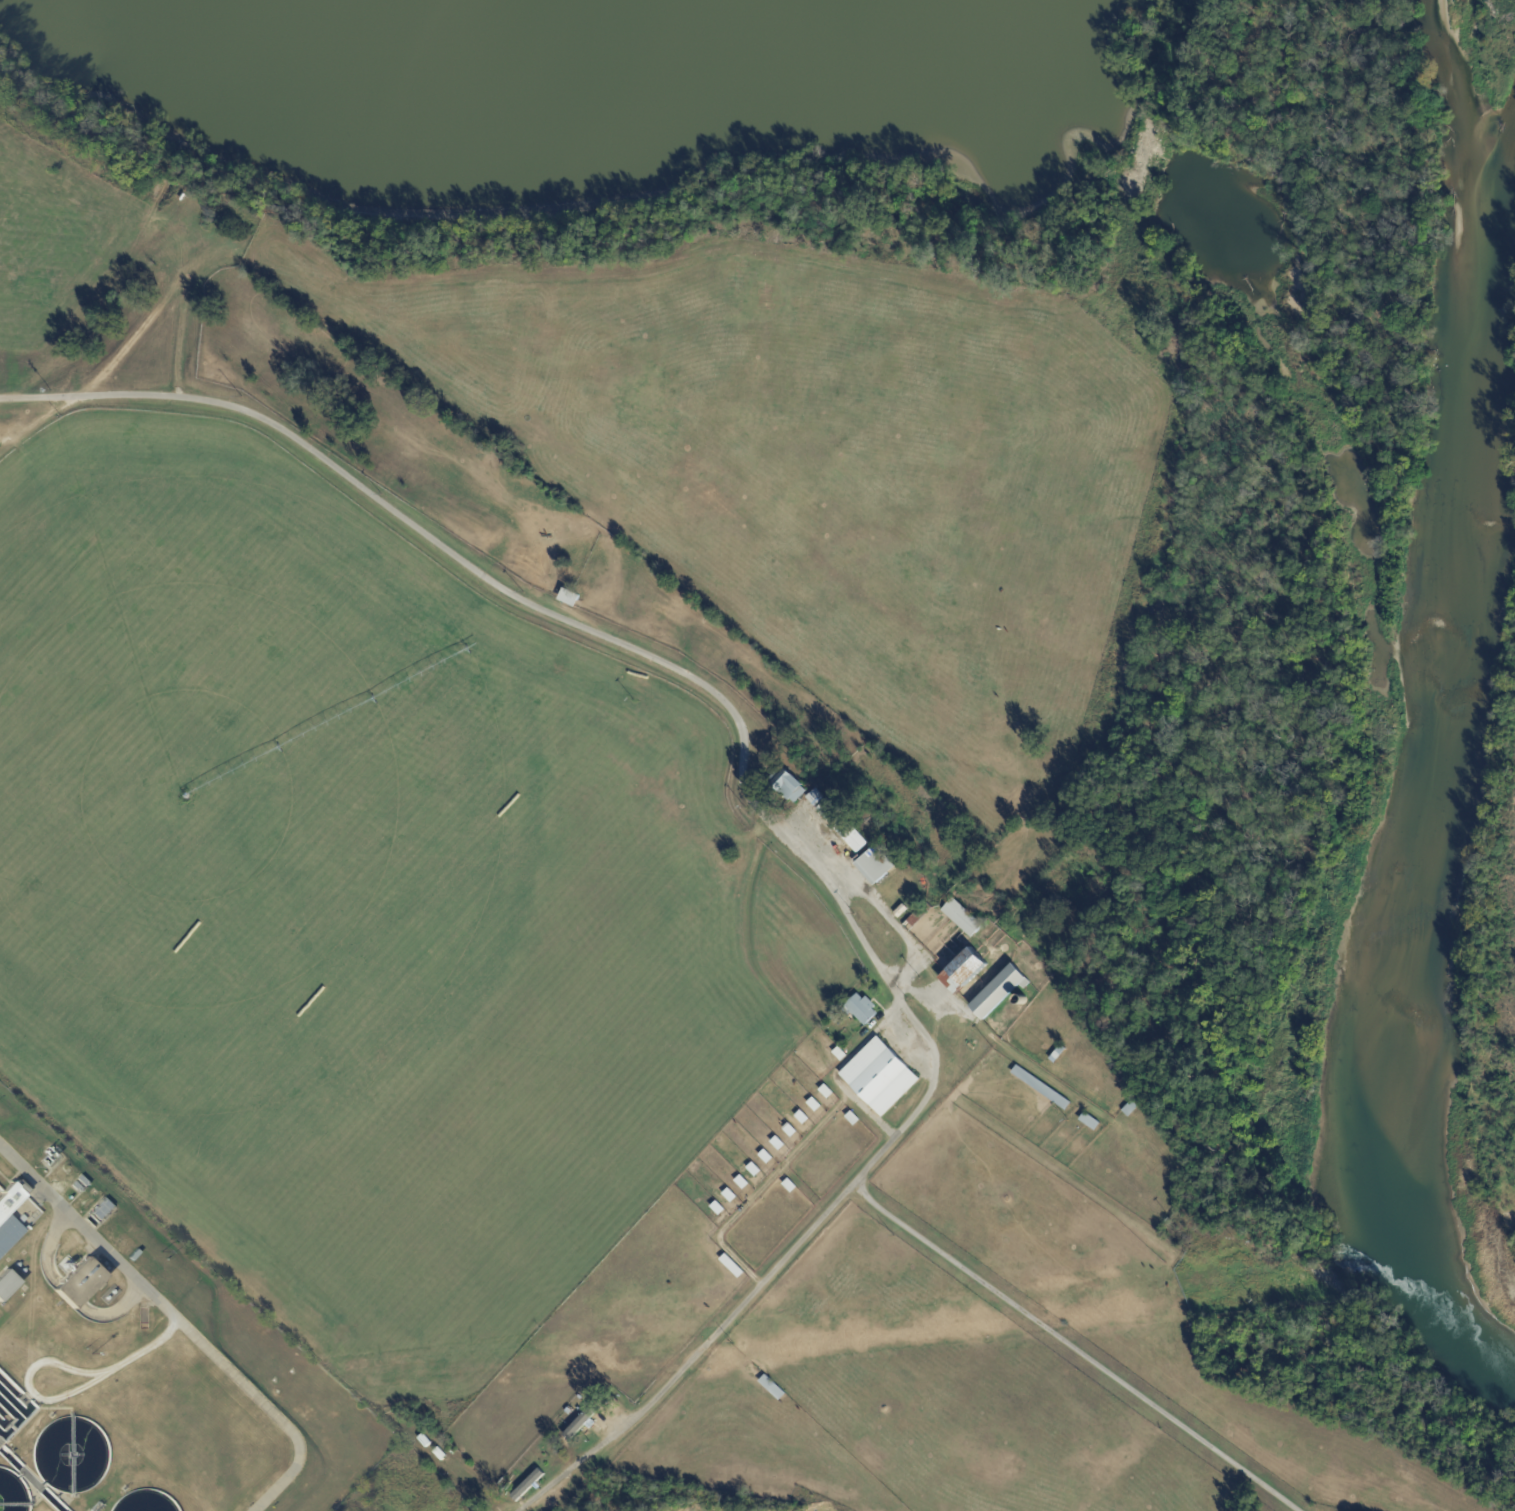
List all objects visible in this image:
crop: (55, 249)
crop: (829, 468)
building: (571, 598)
river: (1428, 760)
road: (745, 761)
building: (812, 769)
building: (789, 785)
building: (826, 807)
building: (853, 836)
building: (734, 854)
building: (878, 866)
crop: (359, 896)
building: (902, 912)
building: (964, 918)
building: (917, 921)
road: (895, 926)
building: (969, 967)
building: (1000, 993)
building: (862, 1010)
building: (841, 1055)
building: (1059, 1055)
building: (881, 1078)
building: (1043, 1088)
building: (828, 1093)
building: (816, 1106)
building: (1131, 1109)
building: (804, 1119)
building: (854, 1120)
building: (1092, 1123)
building: (791, 1132)
building: (779, 1145)
building: (767, 1158)
road: (780, 1166)
building: (755, 1171)
building: (743, 1184)
building: (791, 1187)
building: (731, 1197)
building: (18, 1206)
building: (719, 1210)
building: (734, 1268)
building: (80, 1283)
building: (6, 1284)
road: (180, 1324)
road: (1076, 1349)
wastewater plant: (148, 1359)
building: (774, 1388)
building: (583, 1422)
building: (426, 1441)
building: (557, 1445)
building: (441, 1454)
building: (505, 1483)
building: (530, 1486)

